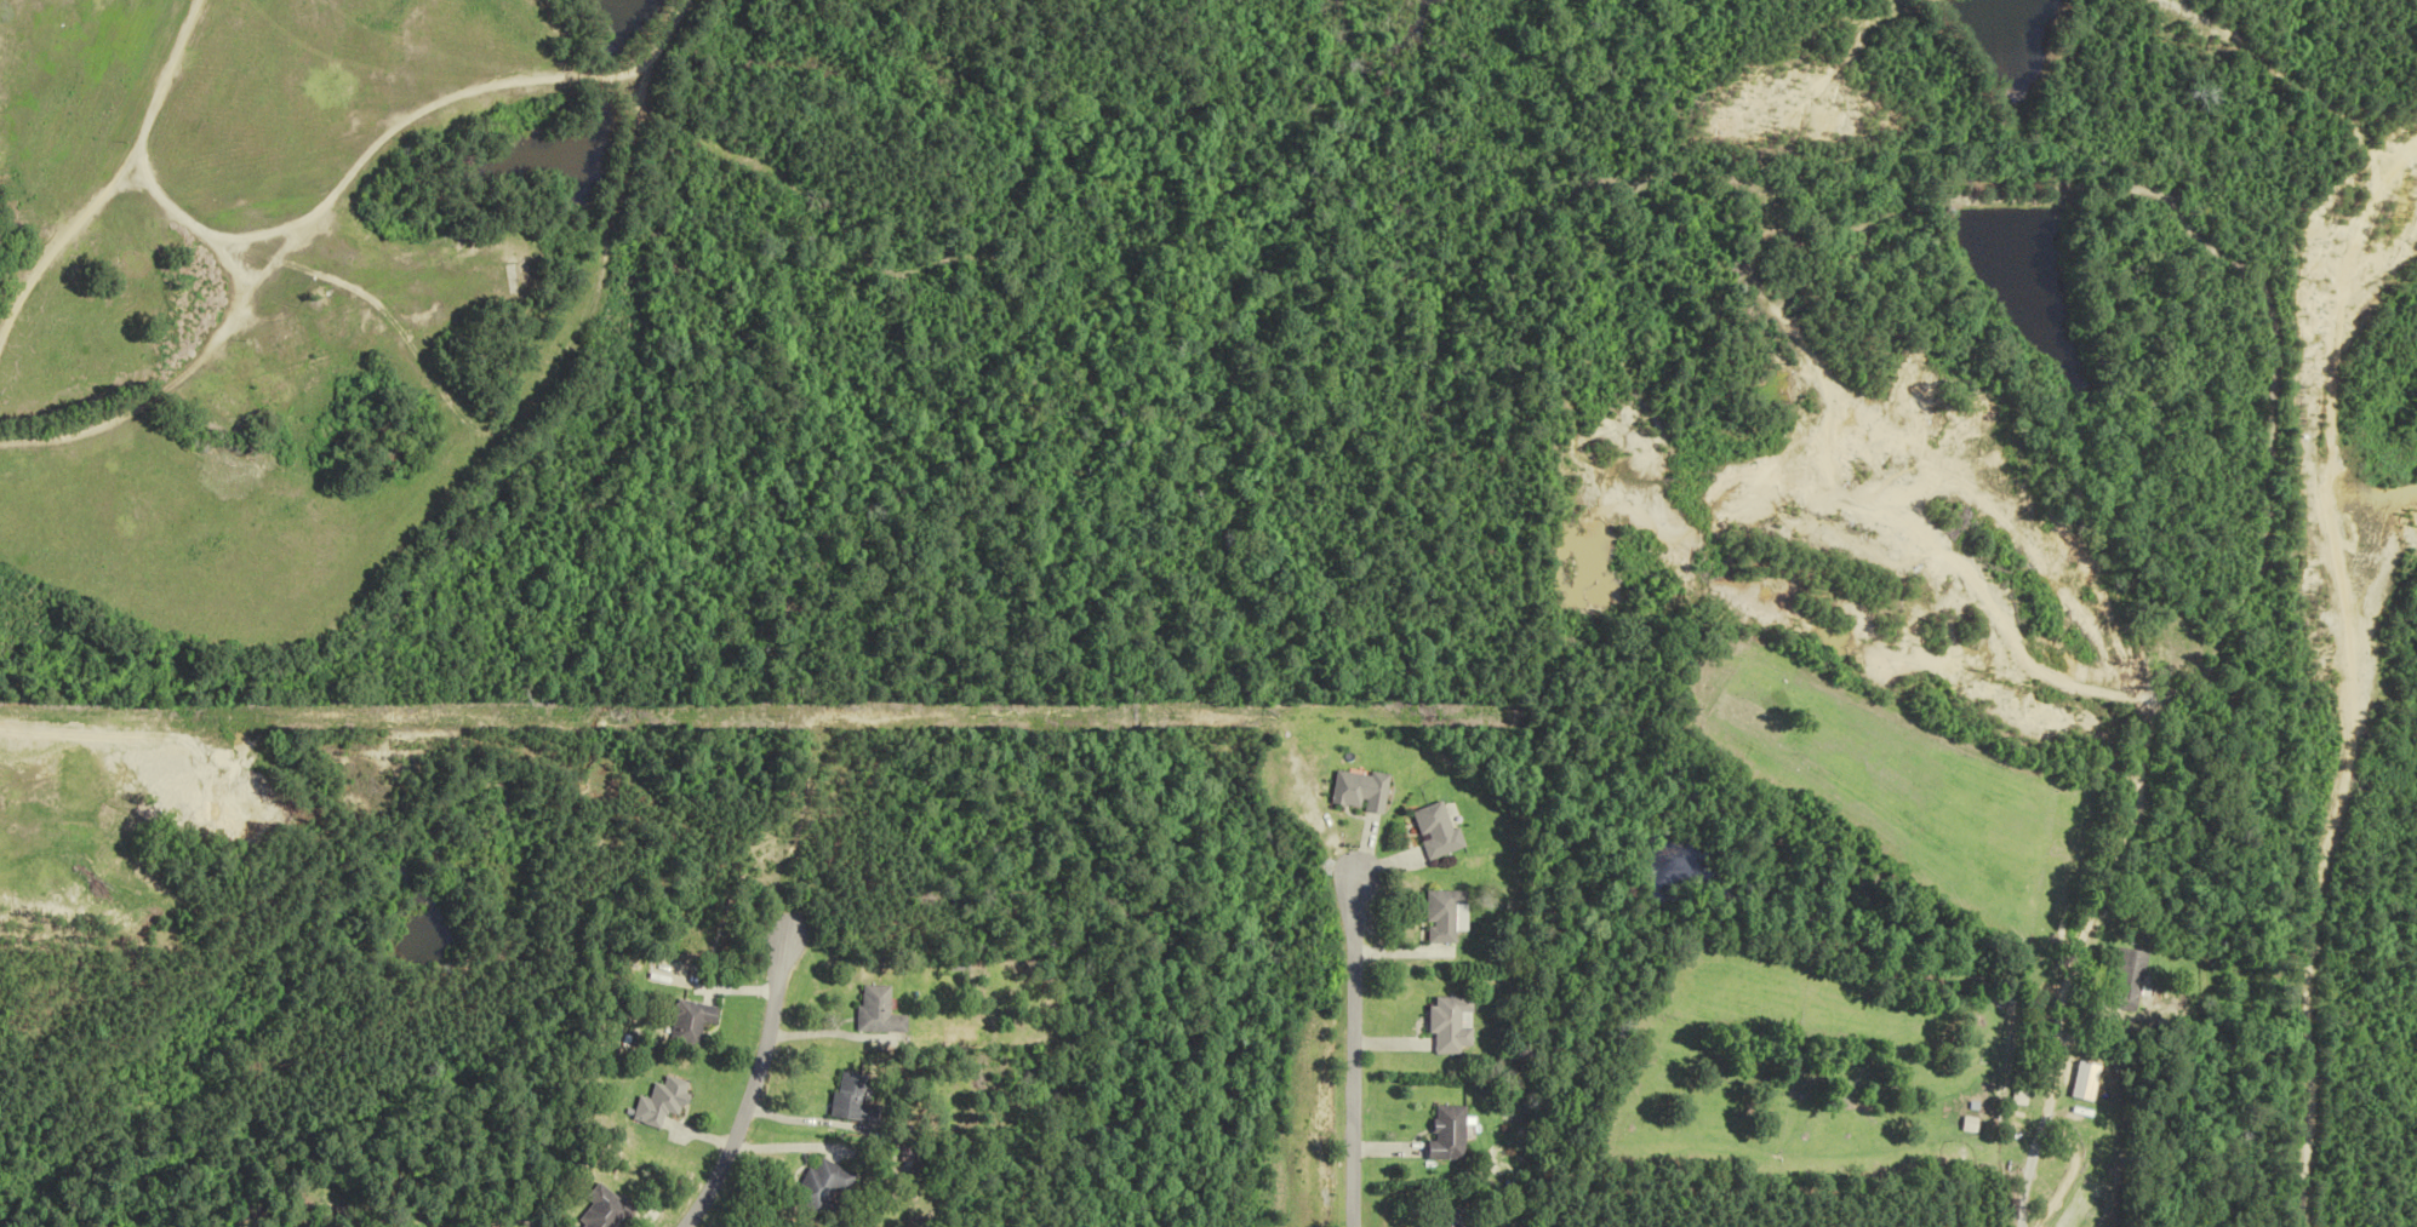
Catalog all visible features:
road: (389, 132)
road: (118, 174)
building: (1367, 790)
building: (1442, 830)
building: (1447, 914)
building: (2131, 980)
building: (888, 1013)
building: (697, 1021)
building: (1442, 1025)
road: (2063, 1030)
road: (1353, 1057)
building: (2082, 1082)
road: (752, 1093)
building: (862, 1099)
building: (672, 1100)
building: (1965, 1125)
road: (2062, 1128)
building: (1440, 1135)
building: (834, 1188)
building: (616, 1208)
building: (1442, 1219)

